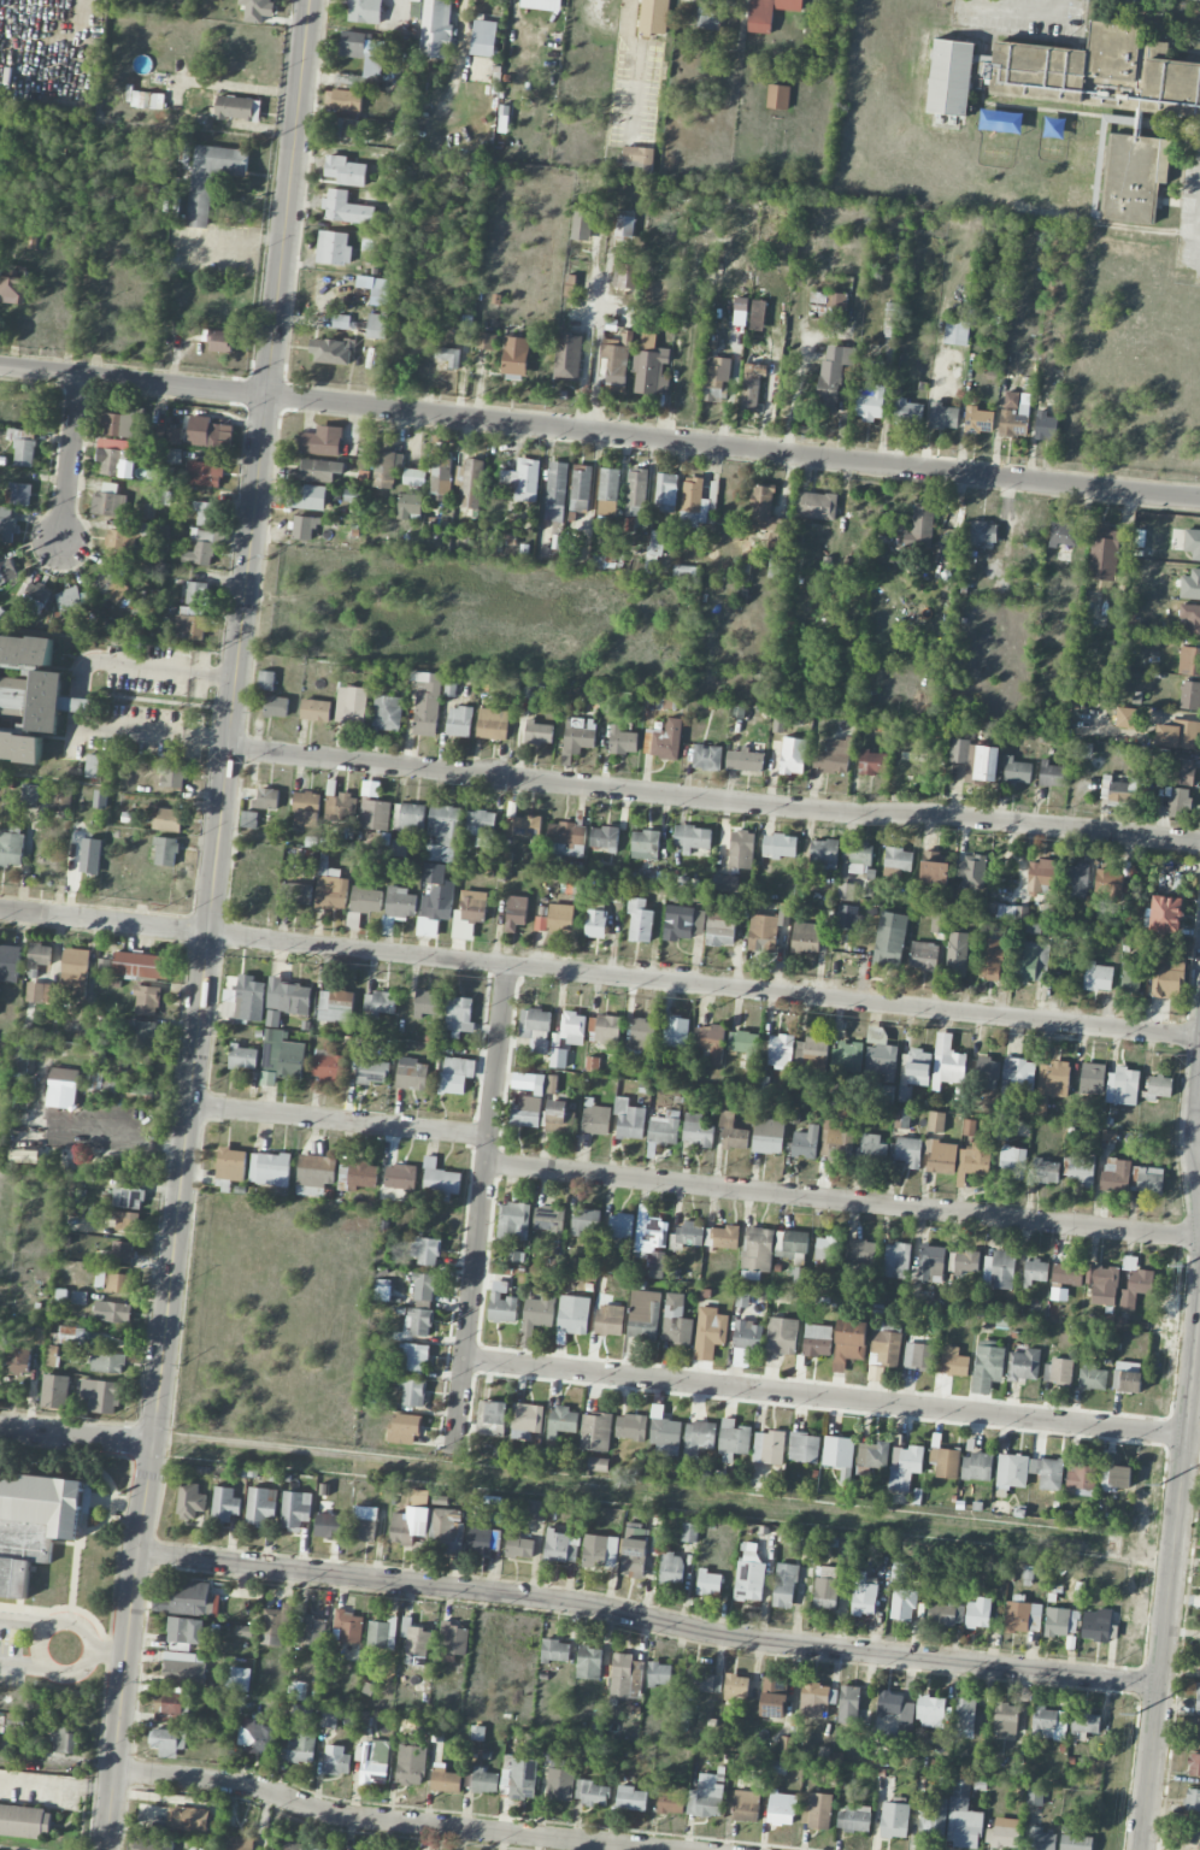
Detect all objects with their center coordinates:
building: (708, 0)
building: (257, 10)
building: (365, 11)
building: (767, 12)
building: (654, 16)
building: (708, 16)
building: (435, 29)
building: (483, 37)
building: (364, 51)
building: (1092, 67)
building: (951, 77)
building: (347, 81)
building: (778, 96)
building: (146, 100)
building: (343, 100)
building: (237, 108)
building: (343, 128)
building: (1082, 158)
building: (637, 159)
building: (345, 171)
building: (1134, 177)
building: (211, 178)
building: (1077, 201)
building: (346, 208)
building: (582, 225)
building: (624, 225)
building: (334, 248)
building: (624, 276)
building: (12, 284)
building: (376, 289)
building: (741, 304)
building: (836, 304)
building: (757, 314)
building: (889, 320)
building: (341, 322)
building: (376, 325)
building: (463, 326)
building: (955, 332)
building: (218, 341)
building: (486, 341)
building: (331, 352)
building: (449, 357)
building: (514, 357)
building: (567, 358)
building: (617, 360)
building: (651, 366)
road: (267, 373)
building: (834, 373)
building: (717, 377)
building: (752, 385)
building: (870, 401)
building: (907, 412)
road: (928, 412)
building: (943, 417)
building: (976, 419)
building: (123, 423)
building: (1012, 424)
building: (1045, 426)
road: (600, 431)
building: (208, 432)
building: (169, 435)
building: (322, 441)
building: (24, 448)
building: (113, 460)
road: (70, 464)
building: (386, 469)
building: (319, 470)
building: (204, 473)
building: (440, 476)
building: (413, 477)
building: (520, 479)
building: (470, 483)
building: (608, 484)
building: (581, 488)
building: (555, 491)
building: (635, 493)
building: (665, 493)
building: (18, 494)
building: (308, 497)
building: (692, 500)
building: (108, 505)
building: (410, 506)
building: (817, 506)
building: (204, 513)
building: (767, 517)
building: (6, 524)
building: (305, 526)
building: (920, 528)
building: (981, 532)
building: (1063, 535)
building: (118, 543)
building: (1192, 543)
building: (200, 550)
building: (653, 552)
building: (1104, 552)
building: (7, 571)
building: (1190, 585)
building: (110, 587)
building: (196, 593)
building: (33, 597)
building: (69, 602)
building: (192, 611)
building: (1190, 619)
building: (189, 628)
building: (25, 649)
building: (1189, 661)
road: (147, 670)
road: (223, 677)
building: (265, 681)
building: (447, 685)
building: (19, 694)
building: (1190, 695)
building: (52, 702)
building: (425, 703)
building: (665, 703)
building: (275, 706)
building: (351, 706)
building: (314, 709)
building: (387, 713)
building: (1125, 718)
building: (459, 721)
building: (492, 724)
road: (140, 732)
building: (539, 732)
building: (578, 735)
building: (1178, 735)
road: (217, 738)
building: (622, 741)
building: (663, 741)
building: (20, 746)
building: (1082, 750)
building: (793, 755)
building: (834, 756)
building: (707, 758)
building: (975, 759)
building: (745, 761)
building: (872, 762)
building: (92, 766)
building: (910, 766)
building: (1017, 771)
building: (1183, 771)
building: (172, 774)
building: (1052, 774)
building: (1120, 793)
building: (28, 795)
building: (63, 796)
building: (263, 799)
road: (713, 799)
building: (306, 800)
building: (1178, 803)
building: (341, 806)
building: (373, 807)
building: (306, 818)
building: (411, 818)
building: (249, 819)
building: (167, 820)
building: (528, 826)
building: (482, 827)
building: (442, 833)
building: (567, 837)
building: (693, 837)
building: (604, 838)
building: (645, 844)
building: (11, 846)
building: (780, 846)
building: (399, 848)
building: (741, 849)
building: (165, 852)
building: (824, 853)
building: (90, 856)
building: (898, 859)
building: (934, 868)
building: (970, 871)
building: (1042, 876)
building: (1108, 878)
building: (1078, 879)
building: (727, 883)
building: (846, 891)
building: (331, 892)
building: (437, 892)
building: (295, 894)
building: (363, 905)
building: (472, 906)
building: (398, 907)
building: (1008, 912)
building: (517, 913)
building: (1166, 914)
building: (559, 919)
building: (640, 921)
building: (682, 923)
building: (939, 923)
building: (541, 924)
building: (595, 924)
building: (427, 927)
building: (720, 929)
building: (763, 932)
building: (806, 937)
building: (890, 939)
building: (957, 954)
building: (39, 955)
building: (924, 956)
building: (992, 959)
building: (1034, 961)
building: (10, 962)
building: (141, 965)
building: (104, 966)
building: (75, 972)
road: (599, 973)
building: (1131, 974)
building: (1098, 977)
building: (1169, 977)
building: (40, 992)
building: (287, 996)
building: (247, 998)
building: (146, 1000)
building: (380, 1002)
building: (427, 1003)
building: (335, 1006)
building: (458, 1015)
building: (272, 1018)
building: (535, 1029)
building: (605, 1030)
building: (675, 1033)
building: (143, 1035)
building: (641, 1035)
building: (710, 1042)
building: (745, 1045)
road: (498, 1050)
building: (780, 1050)
building: (880, 1055)
building: (816, 1056)
building: (847, 1056)
building: (242, 1057)
building: (558, 1057)
building: (280, 1059)
building: (947, 1062)
building: (328, 1065)
building: (917, 1067)
building: (371, 1071)
building: (411, 1073)
building: (987, 1073)
building: (454, 1074)
building: (1017, 1076)
building: (1092, 1079)
building: (63, 1080)
park: (2, 1082)
building: (99, 1082)
building: (1052, 1083)
building: (1123, 1085)
building: (1159, 1088)
building: (139, 1089)
road: (189, 1096)
road: (1198, 1097)
building: (139, 1098)
building: (527, 1112)
building: (559, 1118)
building: (901, 1119)
road: (339, 1120)
building: (595, 1120)
building: (629, 1120)
building: (935, 1121)
road: (114, 1125)
road: (1195, 1125)
building: (969, 1127)
building: (663, 1130)
building: (696, 1131)
building: (733, 1132)
building: (767, 1135)
building: (836, 1139)
building: (806, 1143)
road: (487, 1149)
building: (875, 1149)
building: (908, 1151)
building: (942, 1157)
building: (975, 1160)
building: (1013, 1162)
building: (230, 1165)
building: (269, 1168)
building: (1082, 1168)
building: (1046, 1171)
building: (314, 1174)
building: (1116, 1174)
building: (357, 1176)
building: (400, 1177)
building: (1147, 1180)
building: (440, 1183)
building: (128, 1197)
road: (842, 1200)
building: (548, 1218)
building: (513, 1220)
building: (128, 1221)
building: (586, 1221)
building: (619, 1226)
building: (688, 1236)
building: (725, 1237)
building: (652, 1239)
building: (790, 1243)
building: (758, 1249)
building: (123, 1251)
building: (427, 1251)
building: (828, 1251)
building: (860, 1251)
building: (896, 1260)
power tower: (1184, 1260)
building: (966, 1261)
building: (931, 1263)
building: (998, 1271)
building: (1035, 1271)
building: (1067, 1274)
building: (114, 1282)
building: (1102, 1284)
building: (1136, 1288)
building: (424, 1289)
building: (382, 1290)
building: (1058, 1294)
building: (501, 1304)
road: (469, 1306)
building: (112, 1312)
building: (539, 1312)
building: (573, 1314)
building: (643, 1315)
building: (610, 1320)
building: (419, 1321)
building: (676, 1321)
building: (710, 1332)
building: (40, 1336)
building: (78, 1336)
building: (748, 1336)
building: (781, 1336)
building: (817, 1341)
building: (849, 1342)
building: (886, 1347)
building: (918, 1356)
building: (416, 1357)
building: (17, 1360)
building: (107, 1362)
building: (953, 1362)
building: (1024, 1365)
building: (987, 1366)
building: (1058, 1371)
building: (1092, 1377)
building: (1127, 1381)
building: (54, 1391)
building: (412, 1392)
building: (100, 1395)
road: (825, 1396)
building: (494, 1416)
building: (527, 1418)
building: (563, 1421)
building: (631, 1427)
building: (404, 1428)
building: (595, 1432)
building: (664, 1433)
road: (76, 1436)
building: (699, 1437)
building: (734, 1437)
building: (769, 1448)
building: (804, 1448)
building: (839, 1451)
building: (873, 1455)
road: (1193, 1455)
building: (945, 1462)
building: (598, 1465)
building: (905, 1467)
building: (976, 1467)
building: (1011, 1473)
building: (1047, 1473)
building: (1116, 1477)
building: (1081, 1479)
power tower: (1163, 1480)
road: (663, 1497)
building: (189, 1501)
building: (224, 1504)
building: (259, 1507)
building: (295, 1509)
building: (535, 1509)
building: (39, 1512)
building: (364, 1522)
building: (408, 1525)
building: (328, 1526)
building: (447, 1530)
building: (689, 1532)
building: (482, 1539)
building: (519, 1545)
building: (559, 1546)
building: (600, 1551)
building: (634, 1551)
building: (671, 1568)
building: (899, 1572)
building: (749, 1574)
building: (14, 1577)
building: (708, 1583)
road: (1171, 1583)
building: (784, 1585)
building: (825, 1593)
building: (864, 1593)
building: (193, 1597)
building: (1196, 1601)
building: (902, 1603)
building: (947, 1613)
building: (978, 1614)
building: (1023, 1616)
road: (648, 1618)
building: (1060, 1622)
building: (1096, 1625)
building: (276, 1626)
building: (348, 1626)
building: (312, 1631)
building: (178, 1632)
building: (380, 1636)
building: (414, 1639)
road: (34, 1640)
building: (451, 1642)
road: (127, 1646)
road: (88, 1649)
road: (107, 1650)
building: (555, 1650)
building: (589, 1662)
building: (1199, 1666)
building: (183, 1669)
building: (659, 1674)
building: (625, 1677)
building: (239, 1679)
building: (704, 1683)
building: (736, 1686)
building: (296, 1690)
building: (773, 1697)
building: (1196, 1697)
building: (816, 1699)
building: (848, 1704)
building: (895, 1705)
building: (169, 1707)
power tower: (1137, 1707)
building: (299, 1710)
building: (930, 1713)
building: (964, 1718)
building: (1005, 1718)
building: (328, 1719)
building: (11, 1721)
building: (1049, 1724)
building: (1084, 1725)
building: (1195, 1733)
building: (257, 1736)
building: (61, 1740)
building: (167, 1742)
building: (784, 1745)
building: (301, 1746)
building: (335, 1760)
building: (372, 1762)
building: (410, 1764)
building: (1194, 1764)
building: (777, 1766)
building: (518, 1778)
building: (445, 1780)
building: (484, 1781)
building: (559, 1781)
road: (55, 1783)
building: (590, 1792)
building: (1034, 1796)
building: (705, 1797)
building: (630, 1798)
building: (671, 1799)
building: (1193, 1803)
building: (746, 1805)
building: (782, 1809)
building: (817, 1810)
building: (963, 1817)
building: (187, 1819)
building: (894, 1819)
building: (933, 1819)
road: (381, 1820)
building: (853, 1820)
building: (24, 1821)
building: (1004, 1833)
building: (1189, 1836)
building: (1041, 1839)
building: (236, 1843)
building: (1076, 1843)
building: (153, 1844)
building: (290, 1846)

